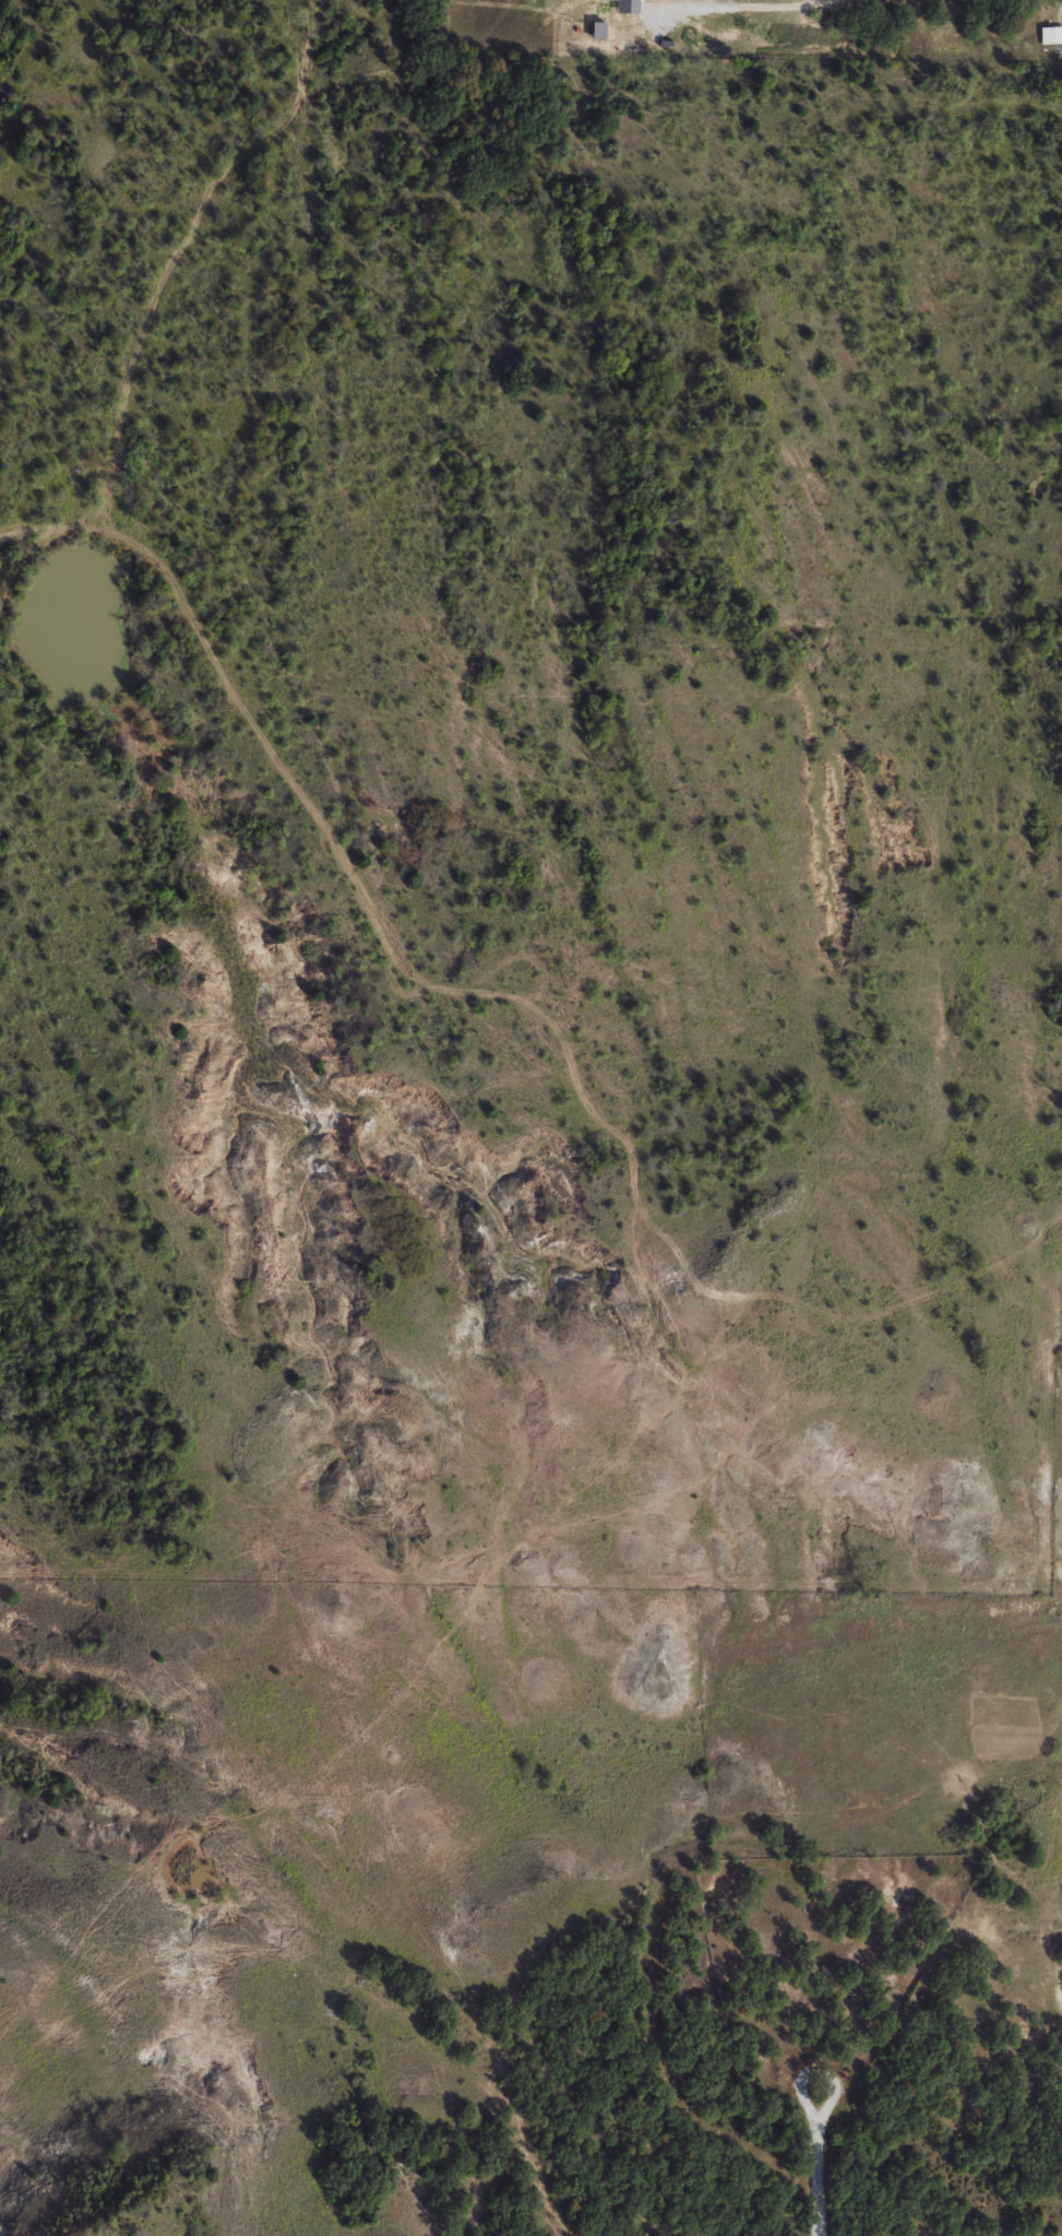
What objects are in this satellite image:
building: (1050, 35)
park: (827, 1941)
road: (814, 2070)
road: (818, 2177)

